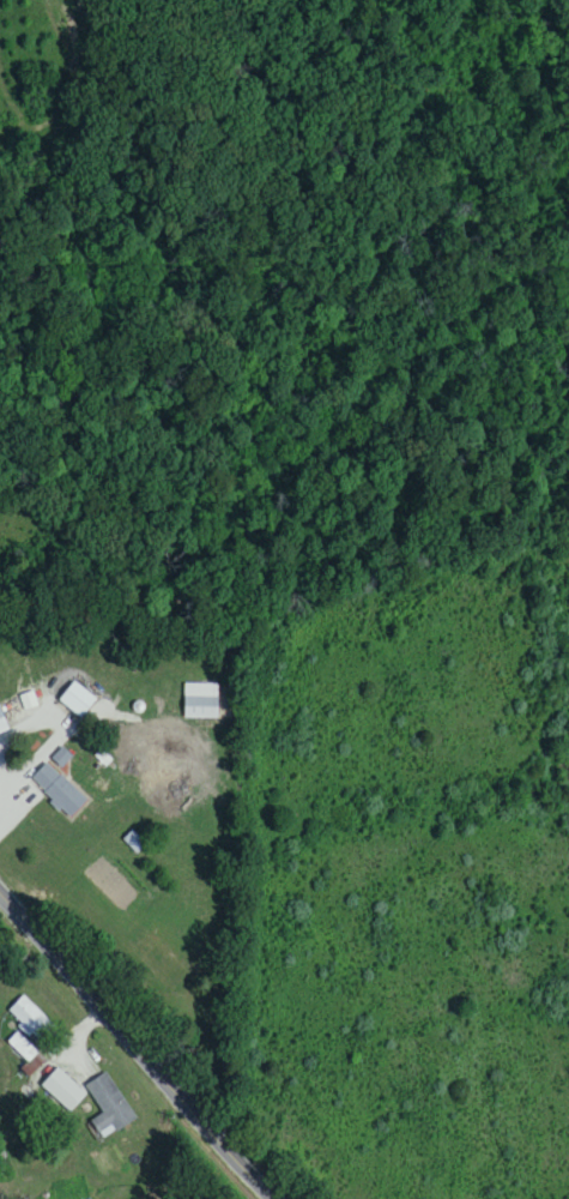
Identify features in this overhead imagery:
building: (75, 700)
building: (201, 703)
building: (2, 725)
road: (32, 754)
building: (57, 790)
building: (30, 1019)
road: (129, 1053)
building: (26, 1056)
building: (67, 1084)
building: (109, 1107)

